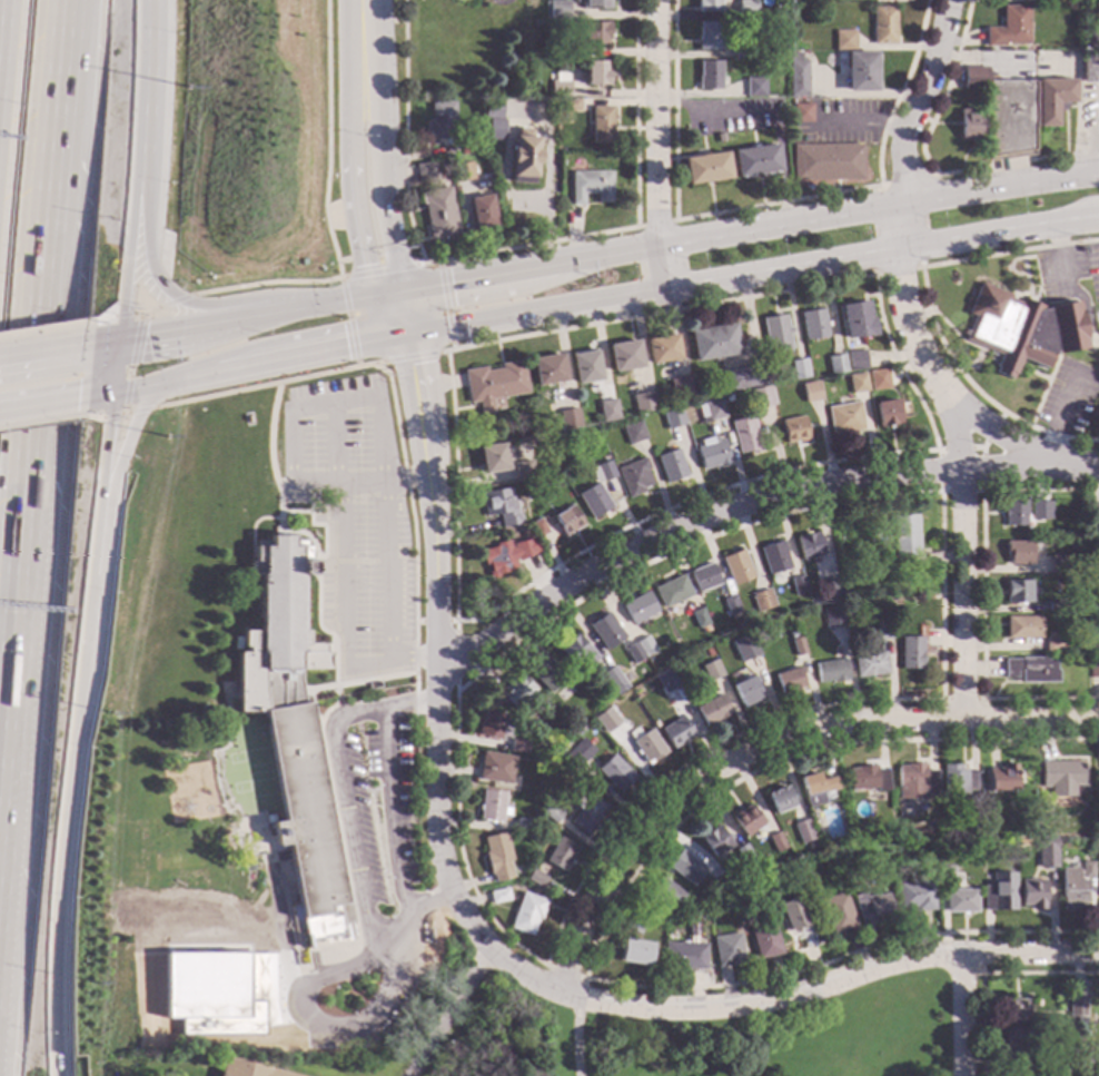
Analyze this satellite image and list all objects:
building: (887, 0)
building: (1032, 1)
building: (1096, 1)
building: (595, 4)
building: (709, 6)
building: (746, 9)
building: (555, 10)
building: (778, 10)
building: (883, 26)
building: (1008, 28)
building: (594, 33)
building: (709, 37)
building: (1089, 40)
building: (844, 41)
road: (362, 47)
building: (743, 51)
building: (563, 52)
building: (1089, 69)
building: (861, 72)
building: (596, 73)
building: (709, 76)
building: (796, 77)
road: (145, 86)
building: (754, 87)
power tower: (187, 89)
building: (560, 89)
building: (1051, 100)
building: (568, 105)
building: (491, 110)
building: (801, 113)
building: (1004, 115)
building: (439, 122)
building: (601, 125)
road: (865, 125)
building: (970, 126)
building: (495, 130)
building: (719, 138)
road: (659, 144)
road: (60, 147)
building: (468, 147)
building: (523, 157)
building: (755, 160)
building: (826, 162)
building: (705, 168)
building: (462, 172)
building: (425, 174)
road: (887, 185)
building: (590, 186)
road: (378, 193)
road: (352, 195)
building: (438, 213)
building: (482, 213)
road: (325, 215)
road: (656, 224)
road: (749, 230)
road: (531, 246)
road: (126, 256)
traffic signals: (364, 267)
road: (382, 270)
road: (898, 272)
road: (755, 274)
road: (1071, 285)
traffic signals: (452, 286)
road: (388, 295)
road: (185, 302)
road: (444, 305)
road: (152, 308)
road: (930, 312)
traffic signals: (119, 313)
road: (406, 314)
road: (383, 317)
road: (100, 319)
road: (245, 319)
building: (857, 320)
road: (347, 323)
building: (813, 324)
road: (43, 328)
building: (1021, 329)
building: (775, 330)
road: (953, 333)
road: (402, 336)
traffic signals: (142, 337)
road: (103, 343)
building: (713, 343)
road: (413, 345)
road: (1096, 346)
traffic signals: (345, 347)
road: (402, 347)
building: (662, 349)
road: (46, 353)
building: (624, 356)
road: (408, 357)
road: (921, 357)
building: (855, 361)
road: (130, 363)
road: (268, 363)
road: (964, 363)
building: (835, 364)
traffic signals: (414, 365)
road: (112, 367)
building: (585, 367)
building: (547, 369)
building: (799, 369)
building: (875, 376)
building: (744, 377)
road: (1043, 377)
building: (494, 384)
building: (857, 384)
building: (680, 386)
road: (129, 391)
road: (1043, 391)
building: (810, 392)
road: (100, 395)
parking lot: (1068, 395)
building: (727, 397)
building: (761, 397)
traffic signals: (76, 399)
building: (643, 403)
road: (44, 404)
road: (293, 409)
building: (606, 411)
building: (713, 411)
road: (127, 413)
building: (887, 413)
road: (1061, 414)
road: (97, 417)
road: (395, 417)
building: (568, 418)
building: (672, 418)
building: (844, 418)
road: (46, 423)
traffic signals: (108, 425)
building: (793, 430)
building: (633, 434)
road: (998, 434)
building: (744, 436)
power tower: (165, 438)
road: (422, 441)
building: (711, 453)
road: (852, 457)
building: (492, 458)
road: (120, 460)
road: (103, 463)
building: (671, 466)
building: (523, 472)
building: (601, 473)
building: (633, 477)
road: (940, 488)
building: (593, 501)
road: (745, 505)
building: (501, 507)
building: (1040, 511)
building: (1013, 512)
building: (1095, 515)
parking lot: (353, 520)
building: (566, 521)
building: (538, 529)
road: (300, 533)
building: (907, 540)
building: (1037, 544)
building: (808, 546)
building: (1018, 552)
building: (505, 556)
road: (341, 557)
building: (774, 557)
road: (353, 562)
building: (1058, 564)
building: (735, 567)
building: (844, 574)
road: (389, 575)
building: (703, 578)
building: (830, 579)
building: (796, 585)
road: (26, 588)
building: (671, 592)
building: (1016, 592)
road: (981, 593)
building: (761, 600)
road: (88, 604)
building: (900, 604)
building: (730, 606)
building: (1055, 606)
building: (640, 610)
building: (833, 618)
building: (697, 619)
building: (1022, 628)
building: (882, 631)
building: (605, 632)
building: (792, 634)
road: (455, 635)
building: (1052, 643)
building: (744, 645)
building: (644, 646)
building: (796, 646)
building: (576, 651)
building: (632, 652)
building: (911, 653)
building: (869, 664)
building: (1030, 670)
building: (1093, 670)
building: (710, 671)
building: (830, 671)
building: (544, 673)
building: (613, 680)
building: (789, 680)
road: (358, 682)
building: (665, 683)
building: (515, 692)
building: (745, 692)
building: (677, 697)
road: (943, 699)
building: (712, 710)
power tower: (111, 714)
building: (606, 720)
building: (491, 725)
road: (455, 733)
building: (676, 733)
building: (293, 736)
building: (647, 747)
road: (766, 747)
building: (517, 748)
building: (572, 753)
building: (1098, 759)
building: (495, 769)
building: (615, 773)
building: (1059, 777)
building: (868, 779)
building: (1001, 779)
building: (957, 780)
building: (840, 784)
building: (914, 784)
road: (436, 787)
building: (818, 790)
parking lot: (394, 793)
building: (779, 800)
building: (491, 806)
road: (389, 809)
building: (551, 813)
building: (585, 813)
building: (1022, 815)
parking lot: (364, 819)
building: (746, 820)
building: (524, 826)
building: (802, 831)
building: (858, 835)
building: (714, 841)
road: (340, 842)
building: (775, 842)
building: (1048, 852)
building: (560, 855)
building: (743, 855)
building: (1098, 856)
building: (497, 858)
building: (685, 868)
building: (1087, 869)
road: (59, 876)
building: (948, 876)
building: (535, 879)
building: (721, 881)
road: (1, 886)
building: (1072, 891)
building: (1000, 894)
building: (1033, 894)
building: (664, 895)
building: (915, 896)
building: (498, 897)
building: (961, 901)
building: (871, 907)
building: (1098, 911)
building: (646, 912)
building: (838, 912)
building: (526, 914)
building: (796, 919)
building: (633, 922)
road: (602, 928)
road: (389, 929)
road: (373, 940)
building: (764, 940)
building: (727, 950)
building: (635, 952)
road: (974, 952)
building: (684, 957)
road: (576, 973)
road: (989, 973)
road: (1, 977)
power tower: (96, 984)
road: (830, 985)
building: (209, 997)
building: (1076, 1008)
building: (1016, 1010)
road: (448, 1011)
road: (961, 1016)
building: (1090, 1017)
road: (577, 1037)
park: (716, 1037)
building: (1017, 1043)
building: (1053, 1055)
building: (244, 1070)
building: (1016, 1070)

